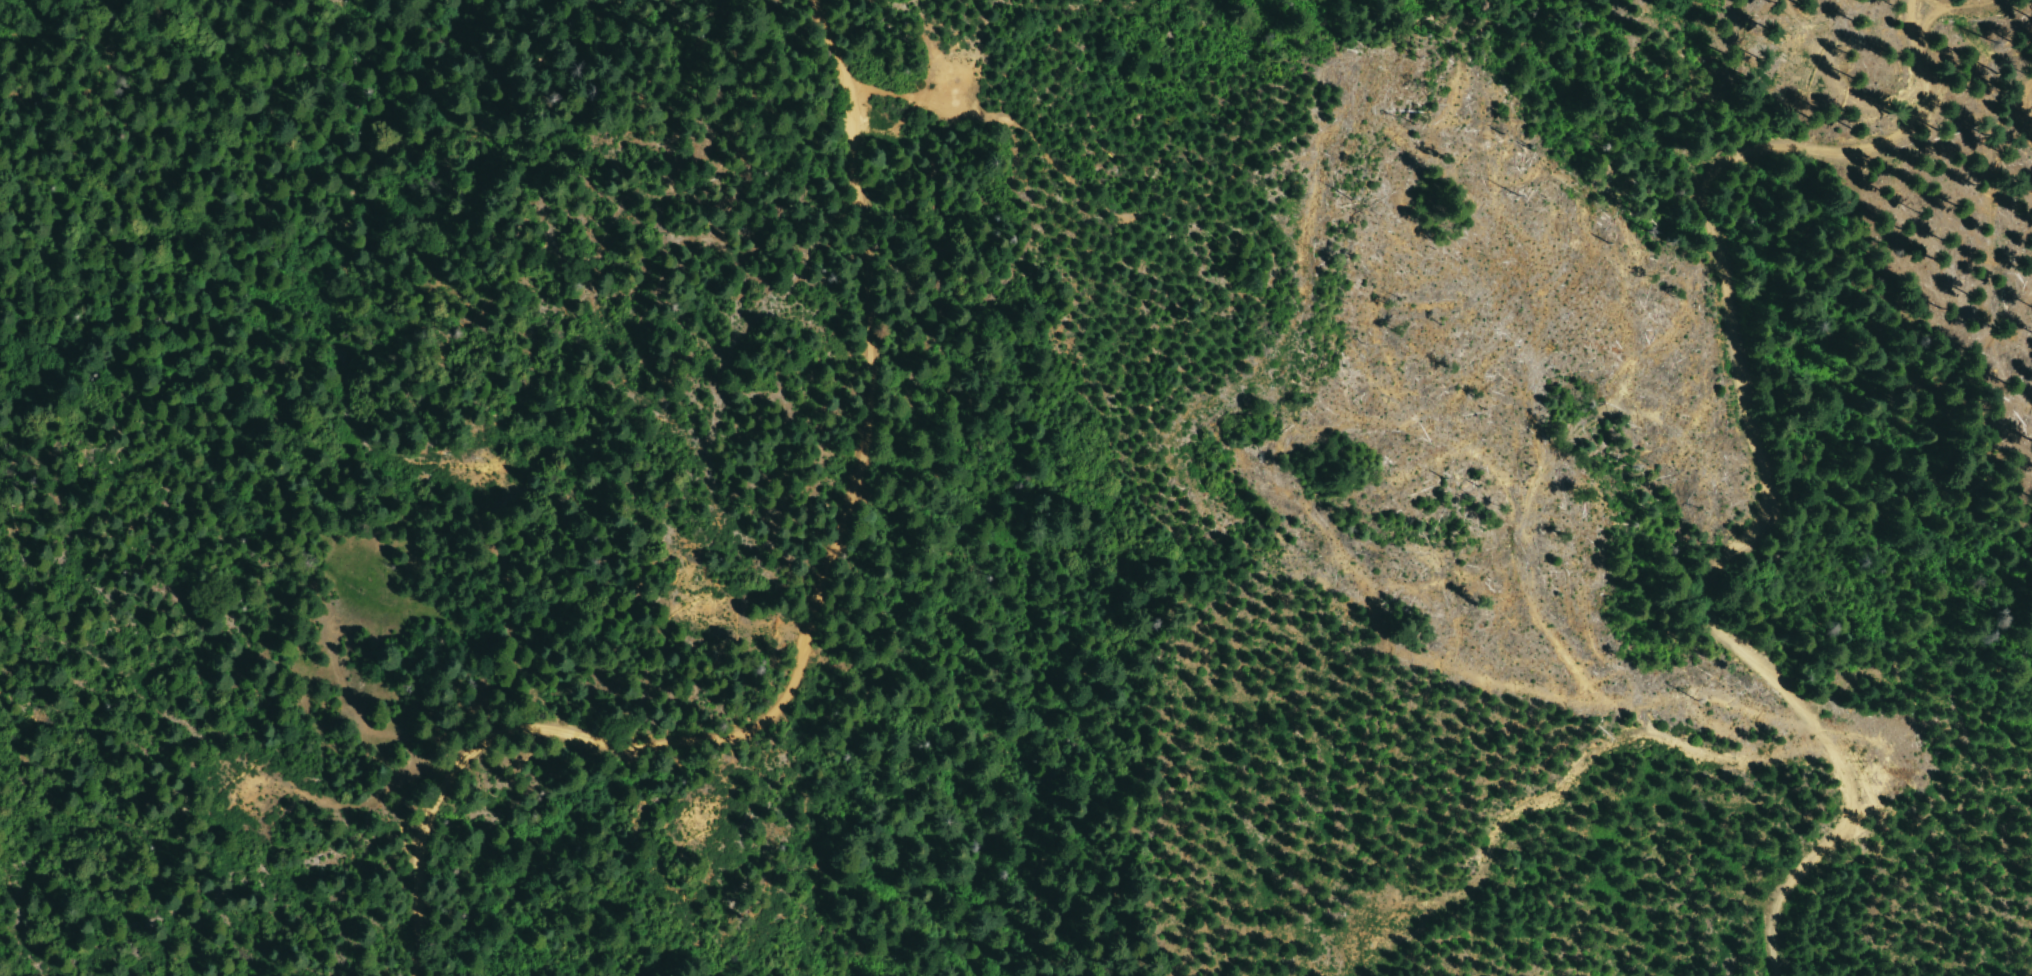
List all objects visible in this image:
road: (1745, 405)
road: (805, 630)

